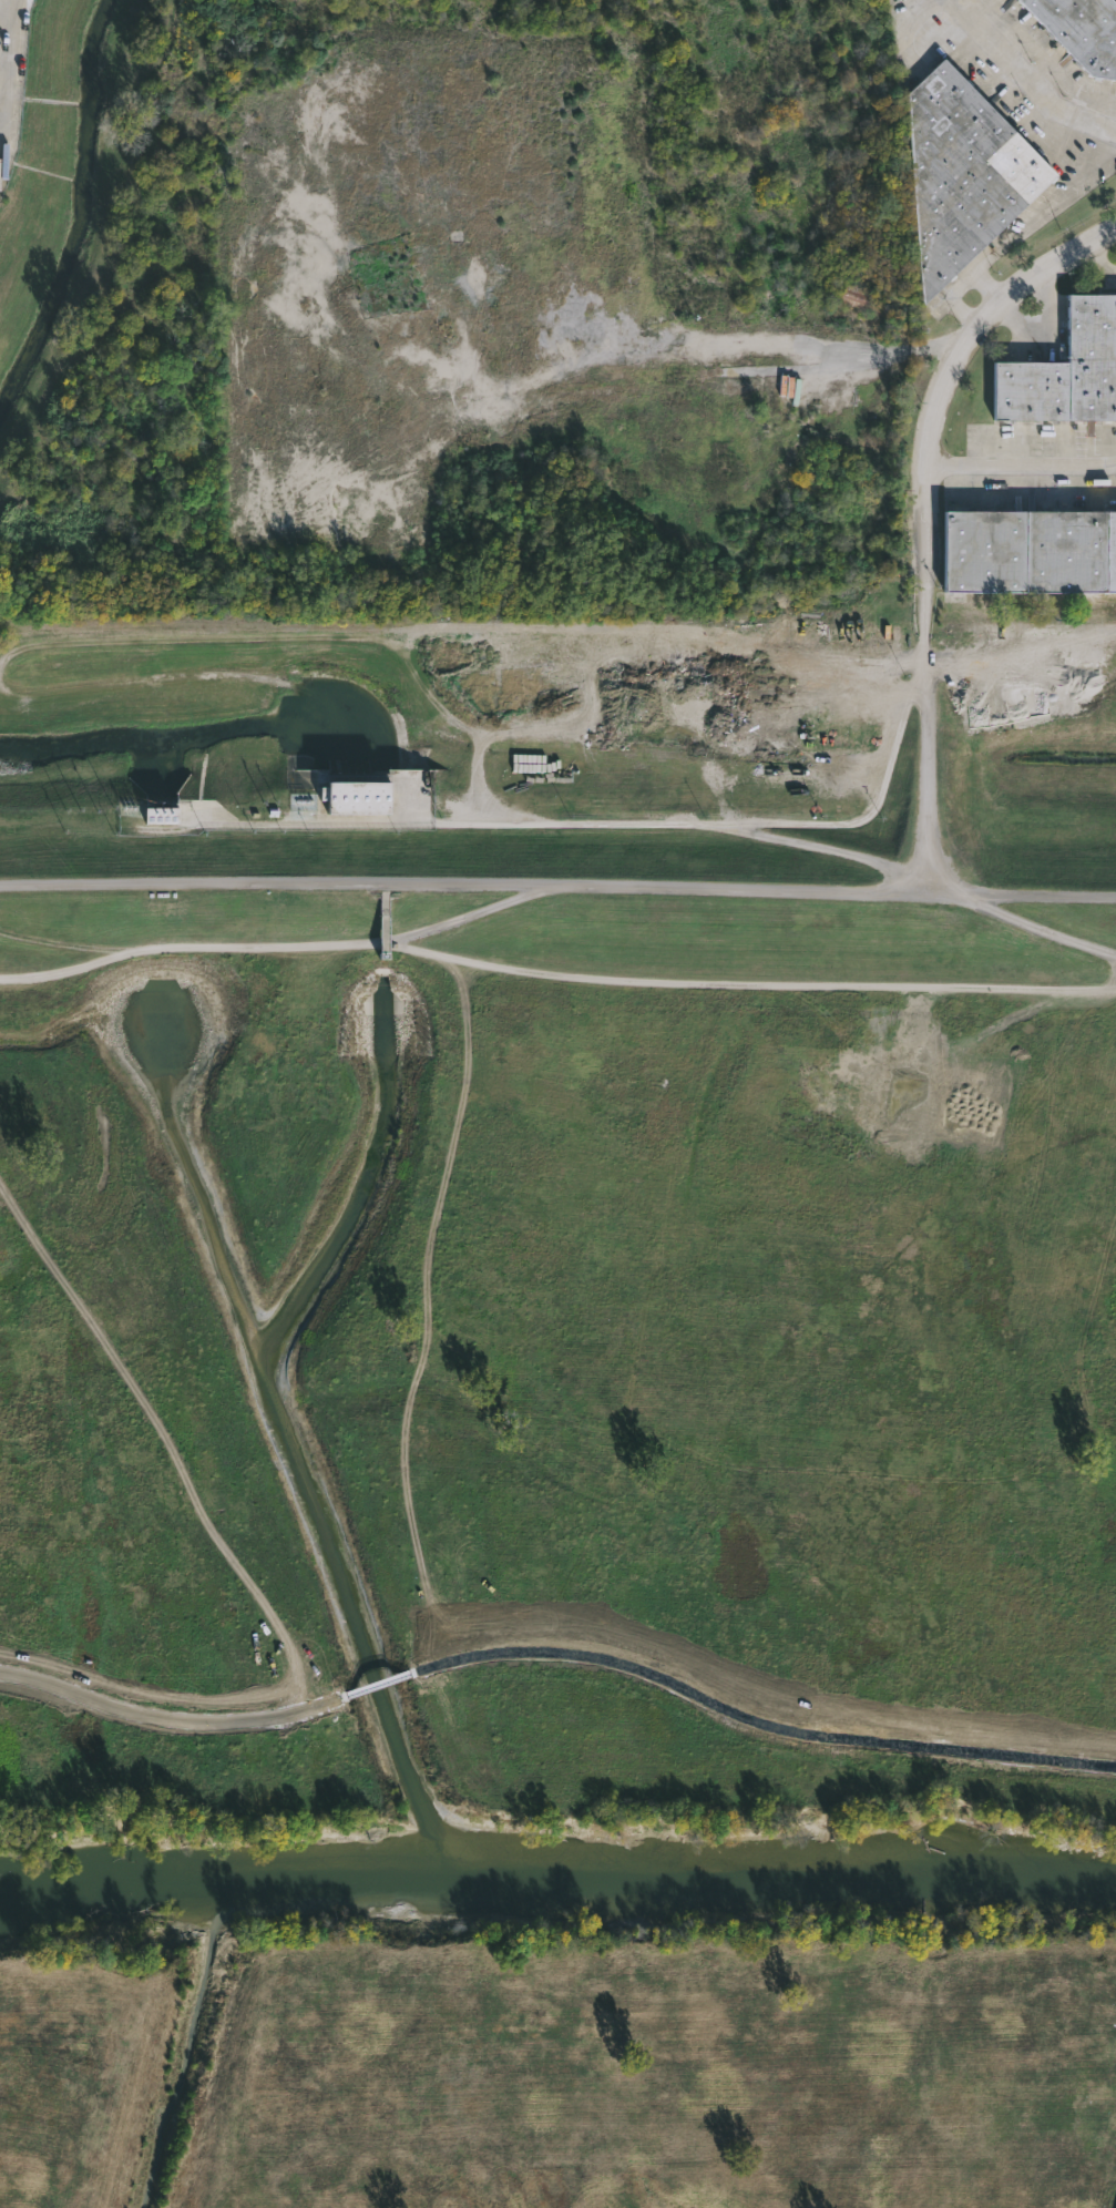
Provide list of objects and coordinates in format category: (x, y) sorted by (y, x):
building: (1083, 30)
road: (13, 53)
road: (1027, 78)
building: (966, 174)
road: (1055, 205)
road: (984, 262)
road: (963, 284)
building: (852, 298)
building: (1067, 371)
road: (942, 396)
road: (1022, 466)
building: (1033, 548)
railway: (557, 626)
road: (877, 753)
road: (924, 768)
building: (358, 797)
building: (161, 815)
road: (525, 821)
power tower: (12, 830)
power tower: (441, 832)
power tower: (873, 835)
road: (827, 849)
road: (557, 885)
road: (470, 916)
road: (1021, 921)
road: (65, 944)
road: (554, 974)
park: (559, 1438)
river: (555, 1862)

